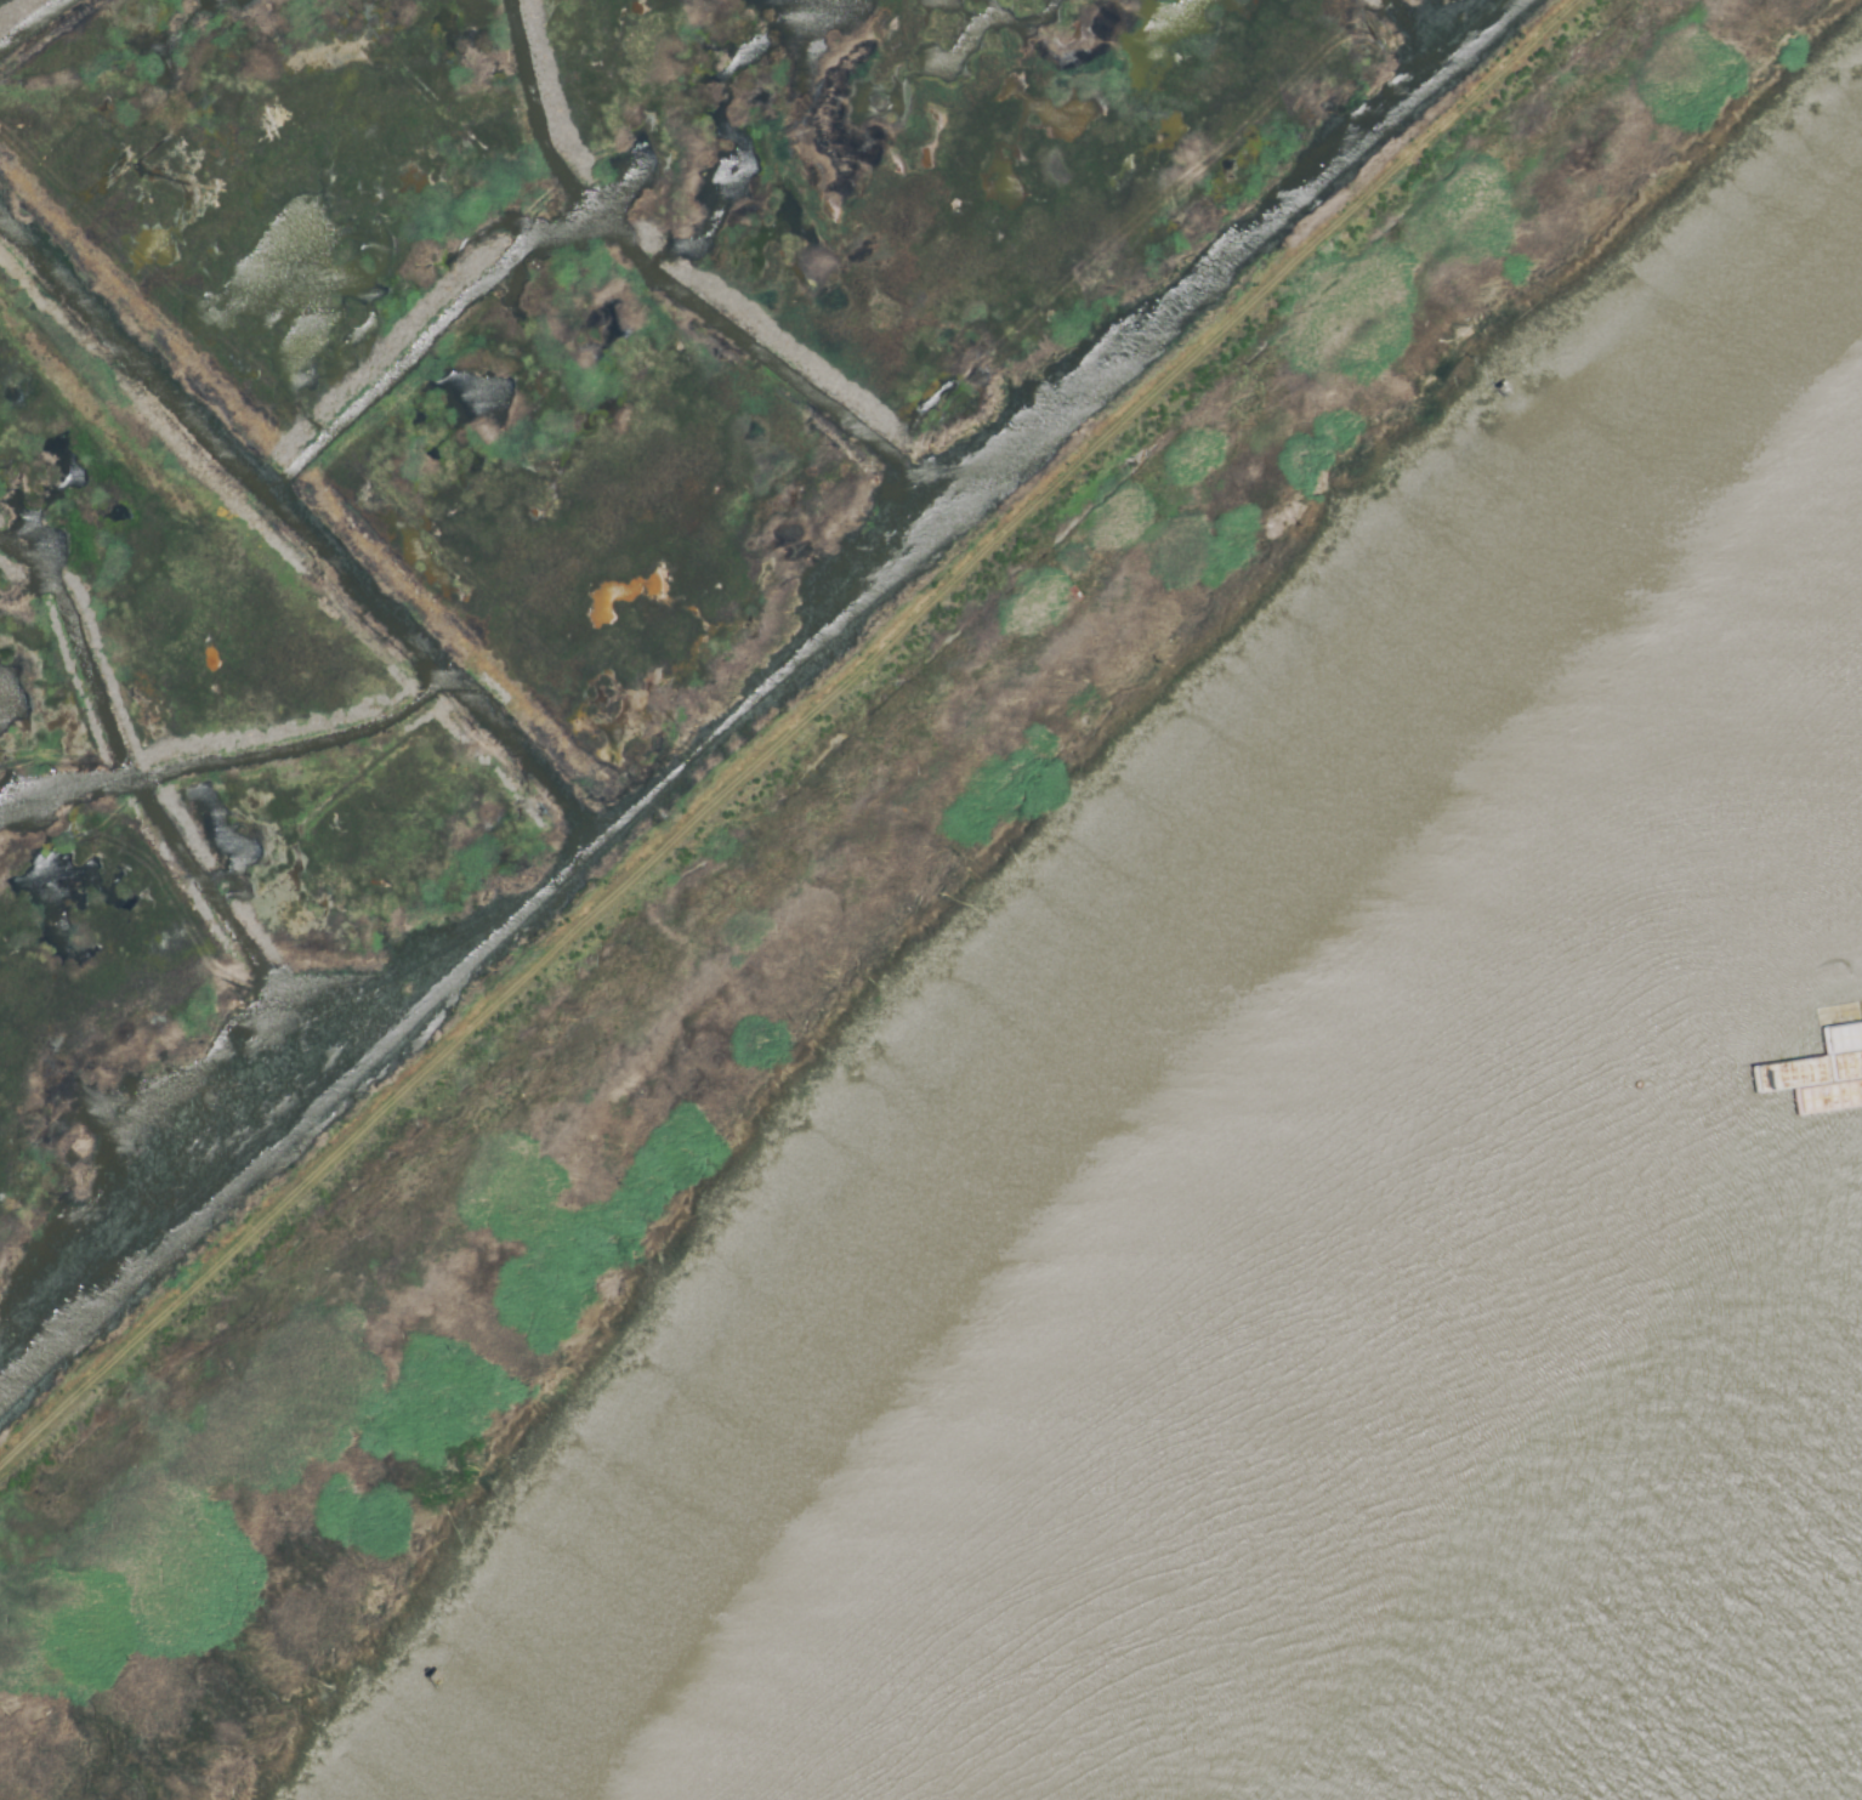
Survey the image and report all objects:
building: (1500, 390)
road: (789, 729)
building: (1820, 1068)
building: (435, 1679)

